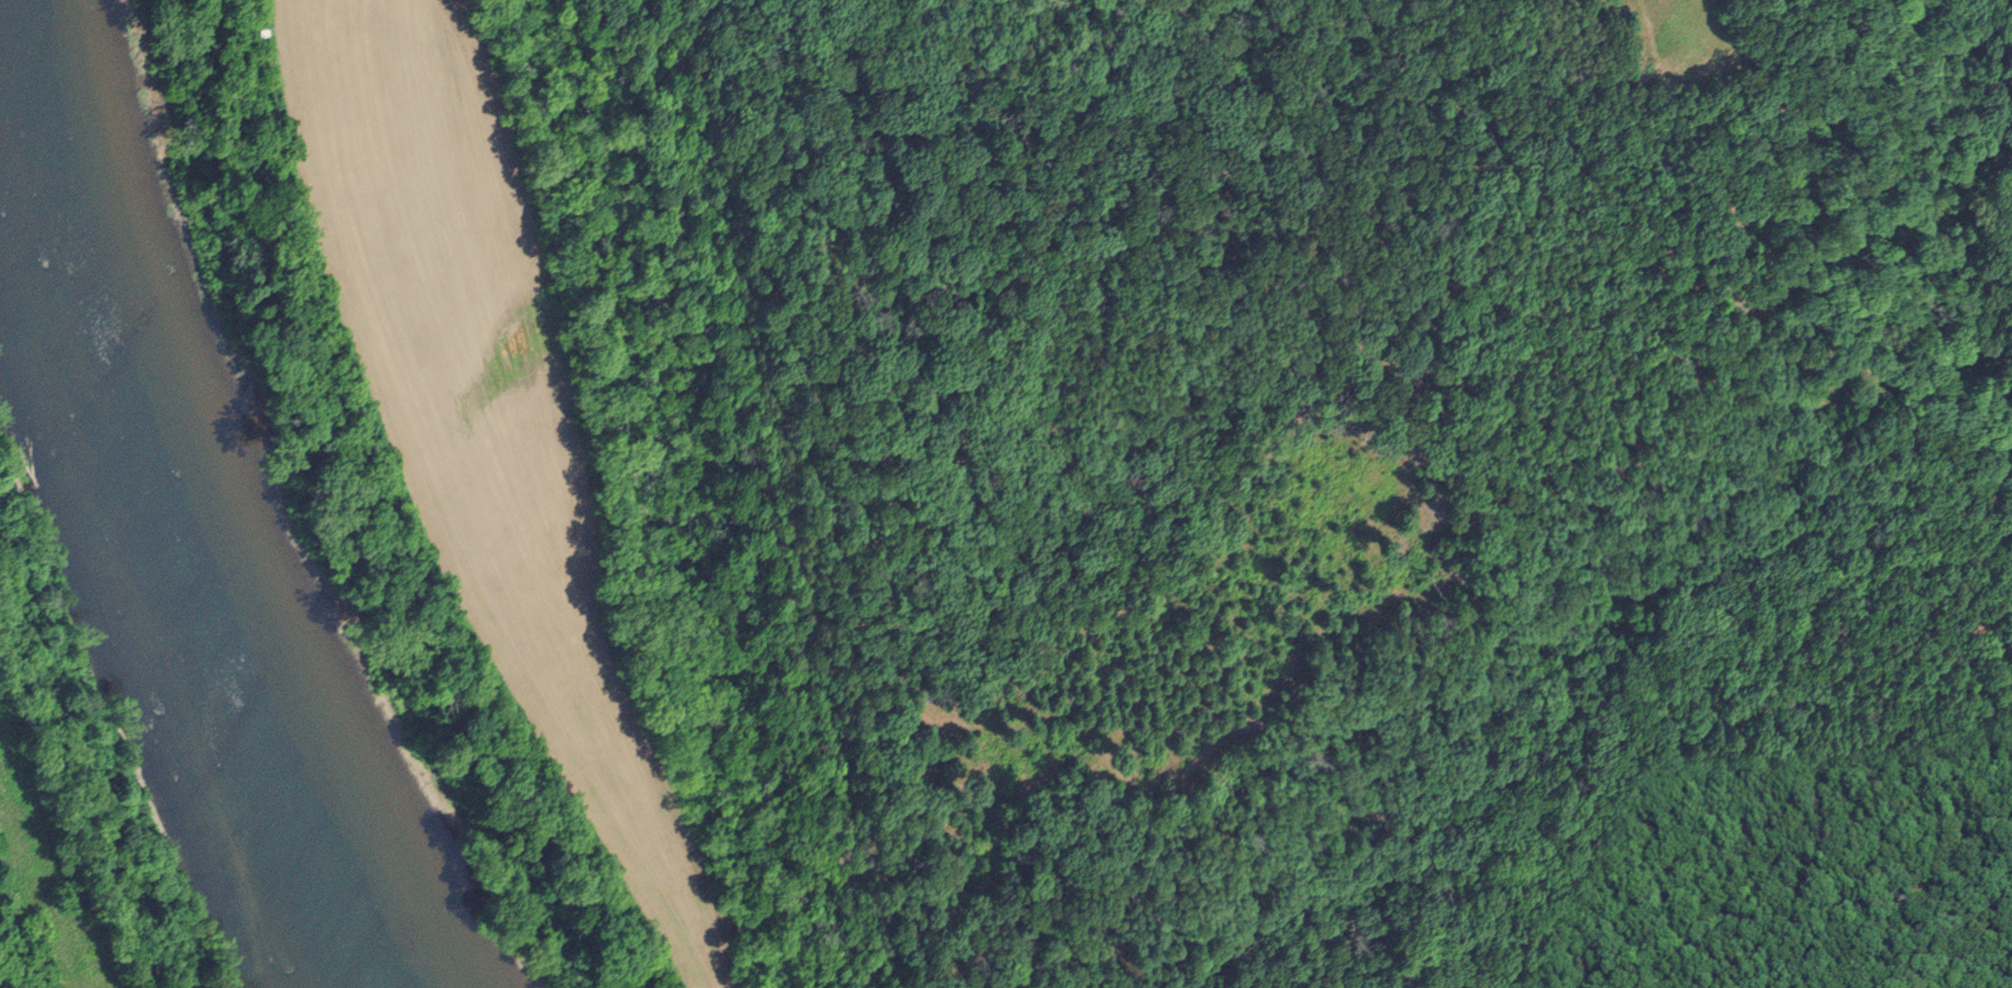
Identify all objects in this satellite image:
road: (771, 494)
river: (197, 509)

